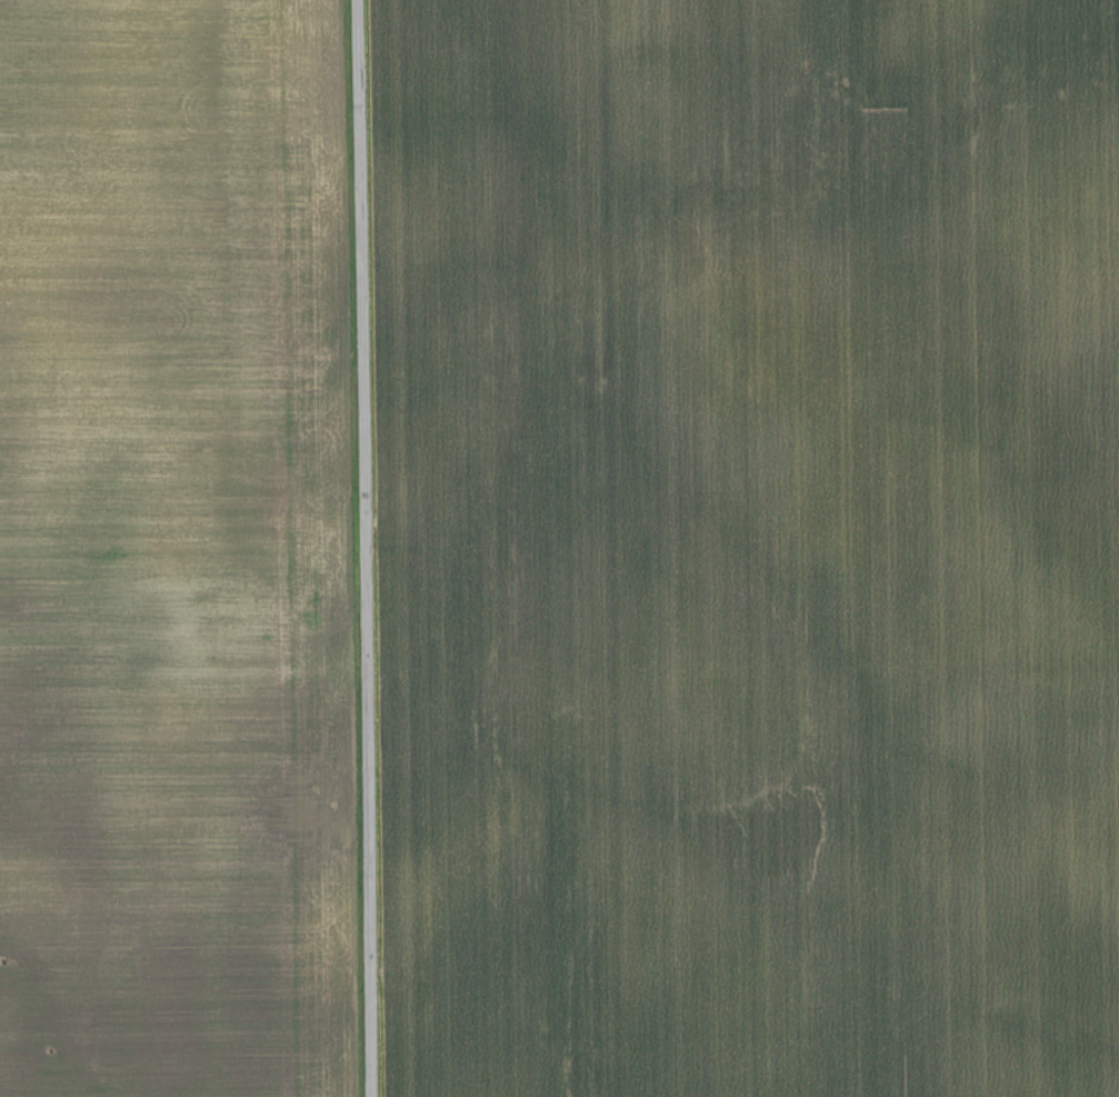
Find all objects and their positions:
road: (367, 548)

